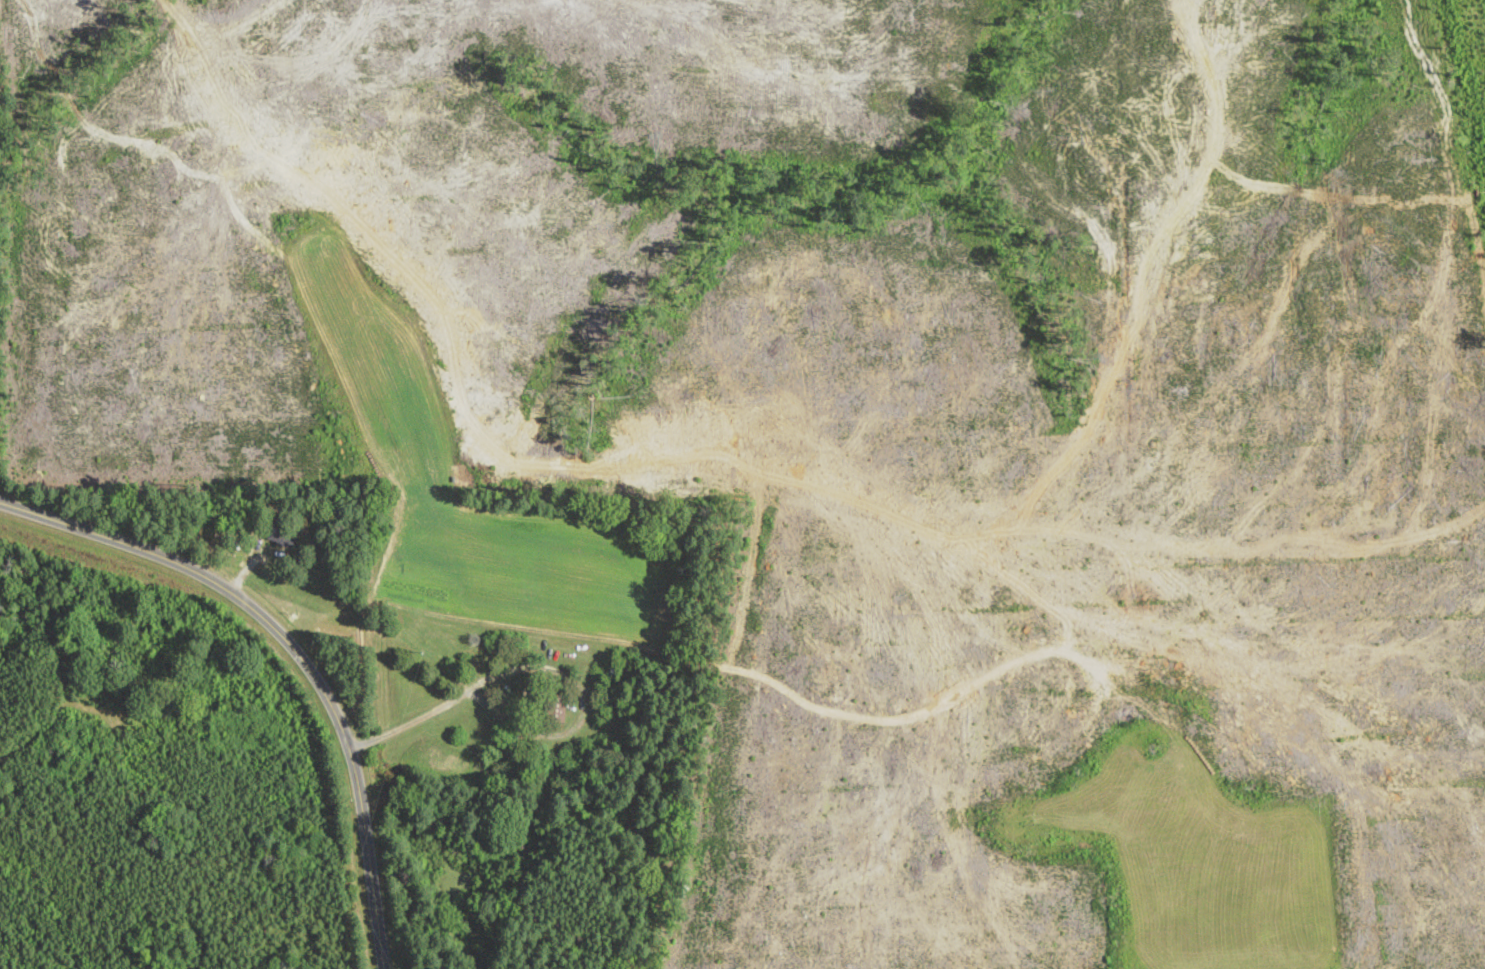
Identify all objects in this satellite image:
building: (282, 534)
road: (297, 647)
building: (611, 683)
building: (556, 708)
building: (587, 749)
building: (494, 778)

